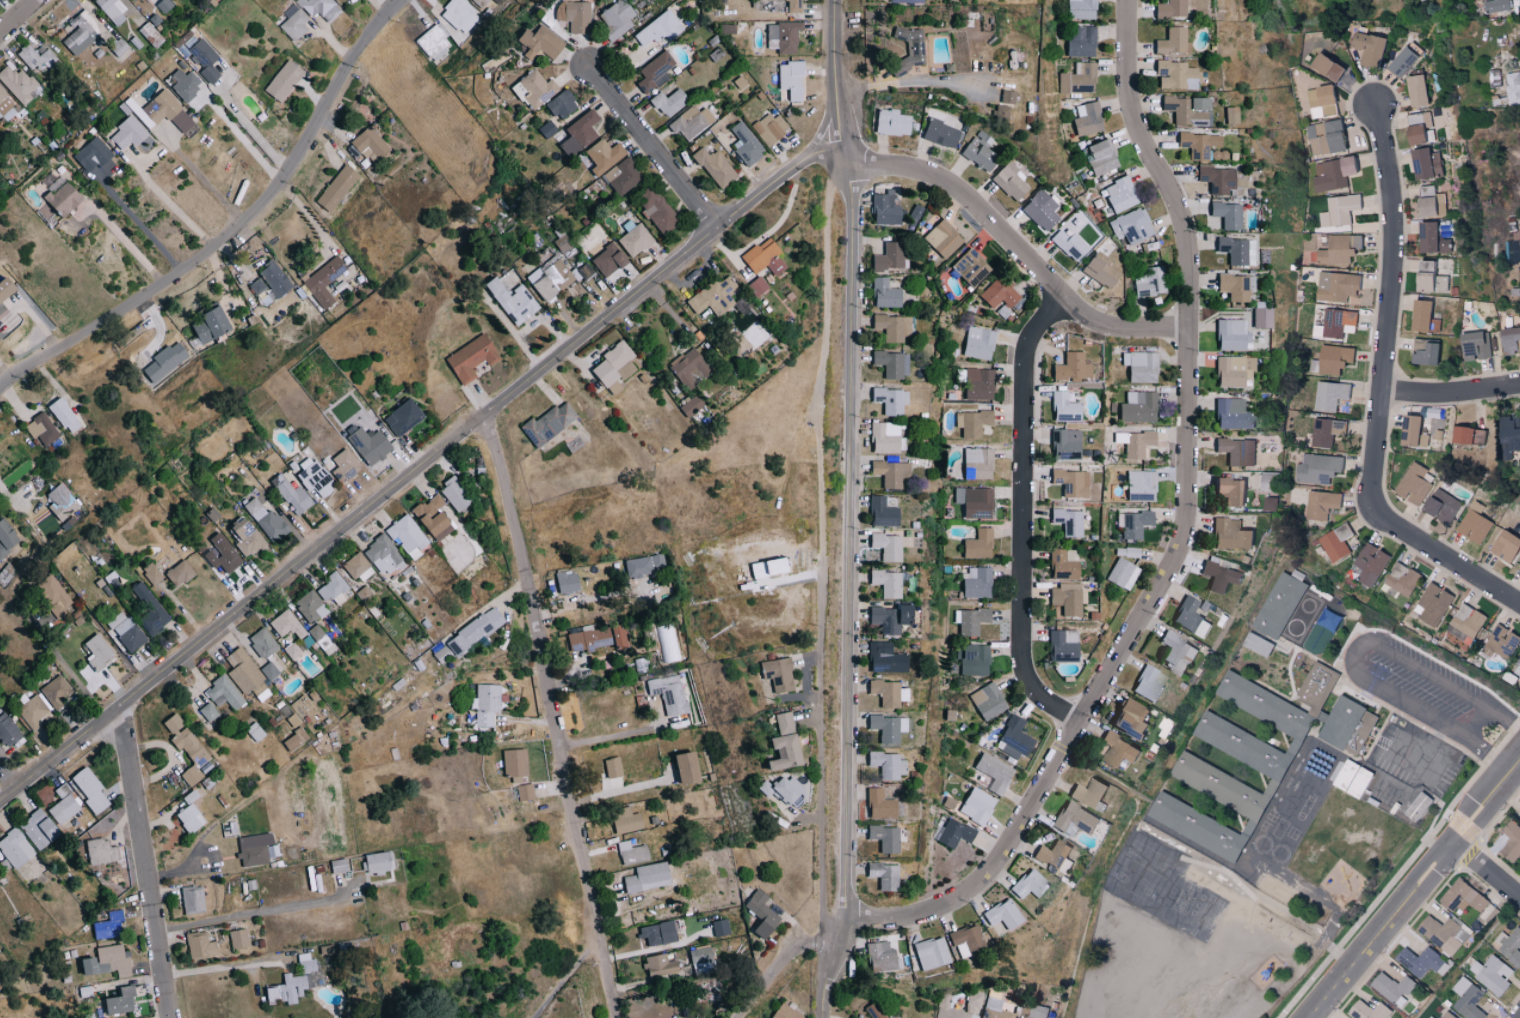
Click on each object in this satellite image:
building: (134, 0)
building: (499, 1)
building: (904, 1)
building: (482, 2)
building: (165, 5)
building: (1495, 5)
building: (796, 6)
building: (319, 7)
building: (1169, 8)
building: (113, 9)
building: (1080, 9)
building: (460, 14)
road: (16, 15)
building: (575, 15)
building: (618, 18)
building: (295, 22)
building: (661, 28)
building: (729, 28)
building: (83, 33)
building: (785, 36)
building: (1079, 40)
building: (541, 41)
building: (1171, 41)
building: (435, 43)
building: (1366, 48)
building: (914, 49)
building: (36, 58)
building: (205, 59)
building: (1012, 59)
building: (1400, 61)
building: (1324, 67)
building: (655, 70)
building: (1175, 75)
building: (1077, 78)
building: (793, 79)
building: (285, 80)
building: (661, 80)
road: (911, 81)
building: (19, 83)
building: (186, 84)
building: (1512, 88)
building: (536, 89)
building: (1415, 90)
building: (1004, 96)
building: (1321, 101)
building: (670, 102)
building: (564, 104)
building: (6, 106)
building: (1185, 110)
building: (163, 111)
building: (1229, 114)
building: (1086, 119)
building: (889, 122)
building: (692, 123)
road: (250, 128)
building: (769, 128)
building: (548, 129)
building: (129, 133)
building: (940, 133)
building: (580, 134)
building: (1324, 137)
road: (241, 139)
building: (371, 144)
building: (1196, 144)
building: (747, 145)
road: (649, 147)
building: (600, 152)
building: (94, 154)
building: (977, 155)
building: (1100, 156)
building: (1424, 163)
building: (716, 167)
building: (1332, 174)
building: (624, 176)
road: (202, 177)
building: (1214, 178)
building: (338, 187)
building: (1119, 194)
building: (66, 198)
building: (1428, 202)
road: (169, 203)
building: (883, 207)
building: (1342, 208)
building: (1039, 210)
building: (660, 211)
building: (911, 214)
building: (1225, 214)
road: (140, 223)
road: (236, 227)
building: (1132, 229)
road: (766, 234)
building: (1518, 235)
building: (1426, 237)
building: (636, 238)
building: (940, 238)
road: (125, 241)
building: (563, 243)
building: (1067, 243)
road: (1015, 247)
building: (1235, 250)
building: (1337, 250)
building: (886, 256)
building: (766, 257)
building: (610, 260)
building: (968, 266)
building: (1099, 269)
building: (276, 278)
building: (551, 278)
building: (1428, 278)
building: (325, 281)
building: (1148, 281)
building: (1234, 285)
building: (759, 286)
building: (1335, 286)
building: (258, 287)
building: (7, 288)
building: (882, 293)
building: (998, 294)
building: (715, 296)
building: (513, 301)
building: (1260, 317)
building: (1421, 317)
building: (1335, 324)
building: (213, 325)
building: (890, 326)
building: (1229, 334)
building: (1509, 341)
building: (977, 342)
building: (1474, 346)
building: (1424, 353)
building: (473, 358)
building: (1331, 359)
building: (166, 361)
building: (890, 363)
building: (1138, 366)
building: (616, 367)
building: (690, 367)
building: (1070, 367)
building: (1232, 370)
building: (977, 383)
road: (1382, 393)
road: (1451, 393)
building: (1329, 395)
building: (888, 400)
building: (692, 405)
building: (1062, 406)
building: (1137, 407)
building: (1231, 414)
building: (65, 415)
building: (404, 417)
building: (970, 423)
building: (550, 424)
building: (42, 429)
building: (1421, 431)
building: (1325, 432)
building: (1467, 436)
building: (883, 437)
building: (1509, 439)
building: (1133, 442)
building: (1063, 444)
building: (371, 445)
building: (1235, 451)
building: (975, 463)
building: (346, 465)
road: (419, 466)
building: (1317, 469)
building: (890, 473)
building: (316, 478)
building: (1069, 482)
building: (1140, 485)
building: (1413, 485)
building: (1227, 491)
road: (16, 494)
building: (293, 494)
building: (457, 495)
building: (1298, 496)
building: (63, 501)
building: (972, 502)
building: (1320, 505)
building: (1441, 506)
road: (849, 510)
building: (881, 511)
road: (1024, 516)
building: (435, 517)
building: (267, 520)
building: (1066, 521)
building: (1132, 523)
building: (1473, 527)
building: (1229, 534)
building: (410, 536)
road: (1182, 536)
building: (7, 538)
building: (249, 538)
building: (1335, 542)
building: (976, 544)
building: (884, 546)
road: (820, 547)
building: (1505, 547)
building: (384, 556)
building: (224, 559)
building: (1061, 564)
building: (357, 565)
building: (645, 565)
building: (1368, 565)
building: (181, 573)
building: (1122, 573)
building: (153, 574)
building: (367, 574)
building: (1218, 577)
building: (1401, 580)
building: (570, 582)
building: (885, 582)
building: (976, 583)
building: (333, 589)
building: (55, 597)
building: (1064, 602)
building: (1432, 604)
building: (1278, 605)
building: (312, 607)
building: (151, 610)
building: (1189, 617)
building: (886, 619)
building: (969, 620)
building: (1468, 620)
building: (288, 625)
building: (127, 631)
building: (476, 631)
building: (620, 636)
building: (590, 639)
building: (1501, 642)
building: (264, 643)
building: (1256, 644)
building: (1060, 645)
building: (293, 651)
building: (99, 652)
building: (1176, 652)
building: (443, 654)
road: (1351, 657)
building: (883, 658)
building: (972, 659)
building: (1518, 667)
building: (271, 671)
road: (69, 674)
building: (780, 674)
building: (247, 675)
building: (1145, 684)
building: (56, 692)
building: (885, 692)
building: (225, 693)
building: (670, 694)
building: (1279, 699)
building: (986, 701)
building: (485, 704)
building: (33, 711)
building: (209, 712)
road: (550, 716)
building: (1128, 717)
building: (785, 723)
building: (1346, 726)
building: (885, 727)
building: (9, 729)
building: (256, 731)
road: (604, 736)
building: (1012, 737)
building: (297, 739)
building: (1241, 745)
building: (188, 748)
building: (1117, 750)
building: (786, 752)
building: (516, 763)
building: (885, 765)
building: (614, 768)
building: (690, 768)
road: (1412, 770)
building: (990, 773)
building: (1351, 779)
building: (783, 789)
building: (91, 790)
building: (526, 792)
building: (1088, 792)
building: (190, 796)
building: (876, 804)
building: (64, 805)
building: (975, 805)
building: (1519, 805)
building: (1417, 807)
building: (192, 818)
building: (1073, 819)
building: (627, 820)
building: (1195, 826)
building: (40, 829)
building: (952, 833)
building: (886, 837)
building: (1510, 842)
building: (15, 849)
building: (255, 849)
building: (102, 852)
building: (633, 853)
building: (1052, 854)
road: (140, 859)
building: (378, 862)
building: (340, 865)
road: (1487, 867)
building: (881, 875)
building: (649, 877)
building: (1028, 884)
road: (1414, 889)
building: (1461, 898)
building: (193, 899)
road: (255, 911)
building: (763, 915)
building: (1000, 916)
building: (111, 926)
building: (721, 928)
building: (659, 933)
building: (1443, 934)
building: (239, 939)
building: (964, 939)
building: (200, 945)
building: (1508, 946)
building: (928, 953)
building: (879, 957)
building: (704, 960)
building: (109, 962)
road: (782, 962)
building: (1422, 962)
building: (307, 963)
road: (216, 966)
building: (661, 967)
building: (1490, 975)
building: (0, 982)
building: (1393, 987)
building: (289, 990)
building: (1466, 999)
building: (123, 1002)
building: (949, 1009)
building: (995, 1009)
building: (874, 1010)
building: (1036, 1011)
building: (1368, 1011)
building: (787, 1012)
building: (1447, 1015)
building: (1018, 1017)
building: (1430, 1017)

